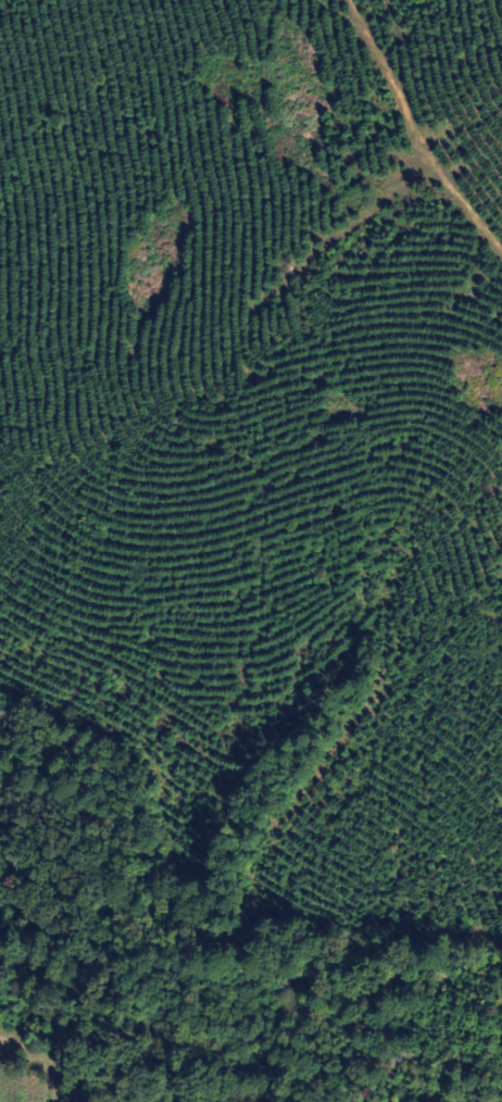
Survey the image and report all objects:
road: (418, 129)

